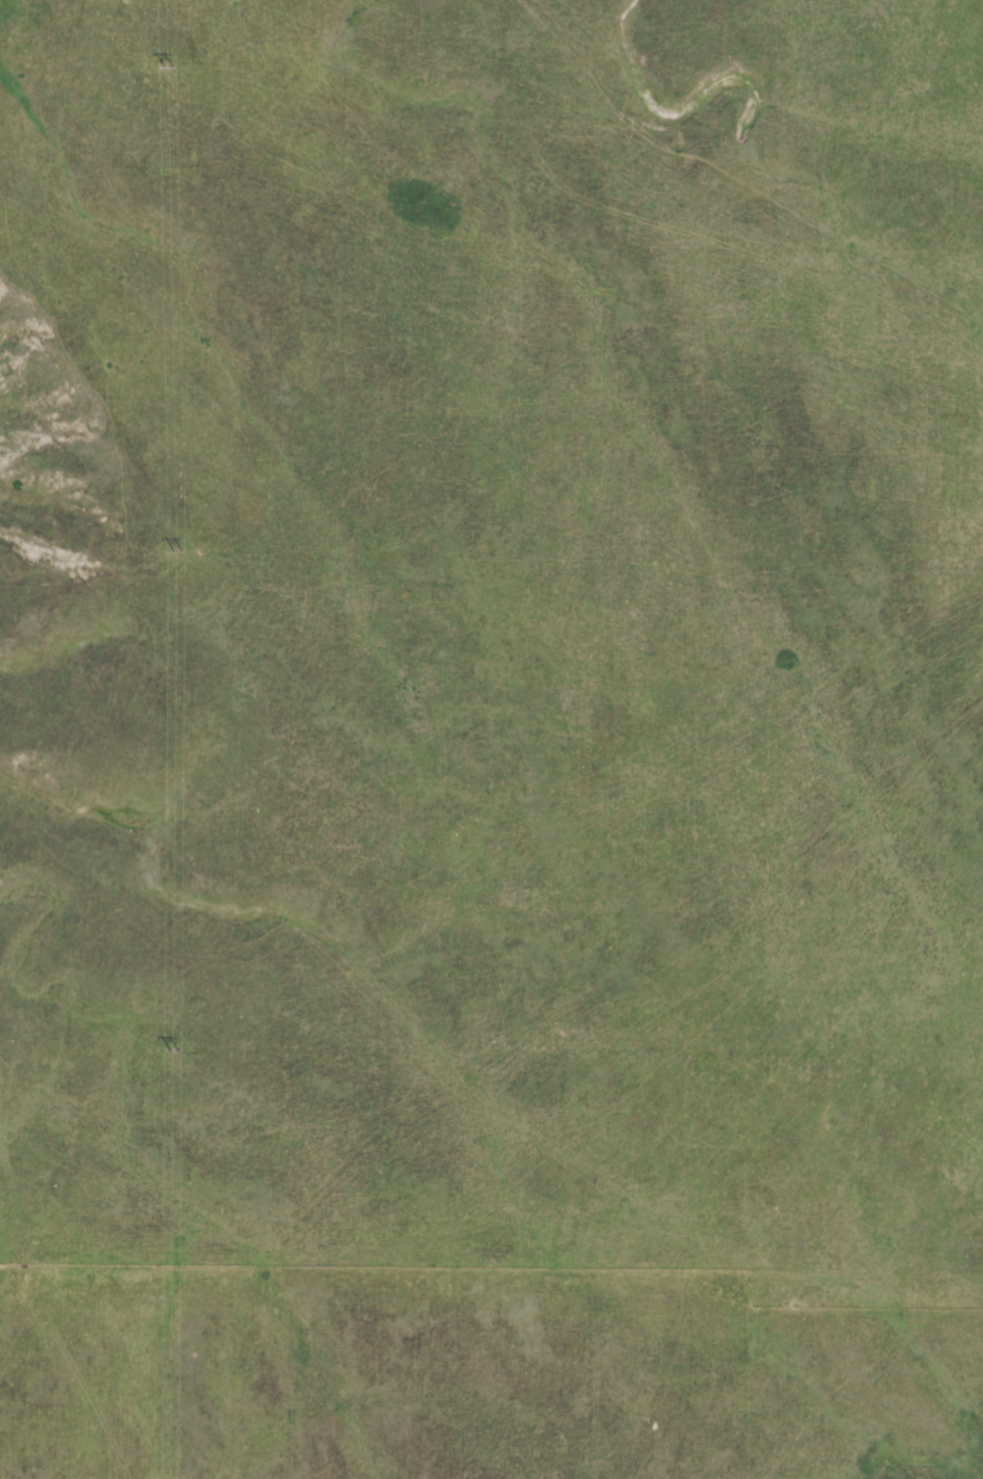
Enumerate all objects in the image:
power tower: (168, 68)
power tower: (178, 553)
power tower: (174, 1052)

